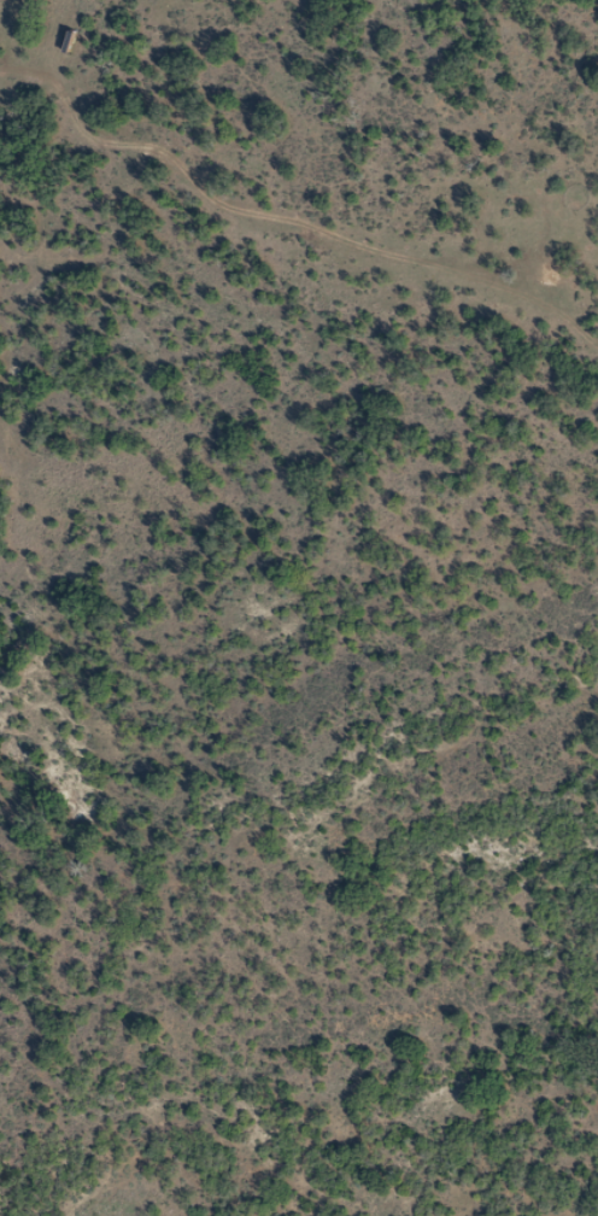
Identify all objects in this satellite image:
road: (289, 236)

